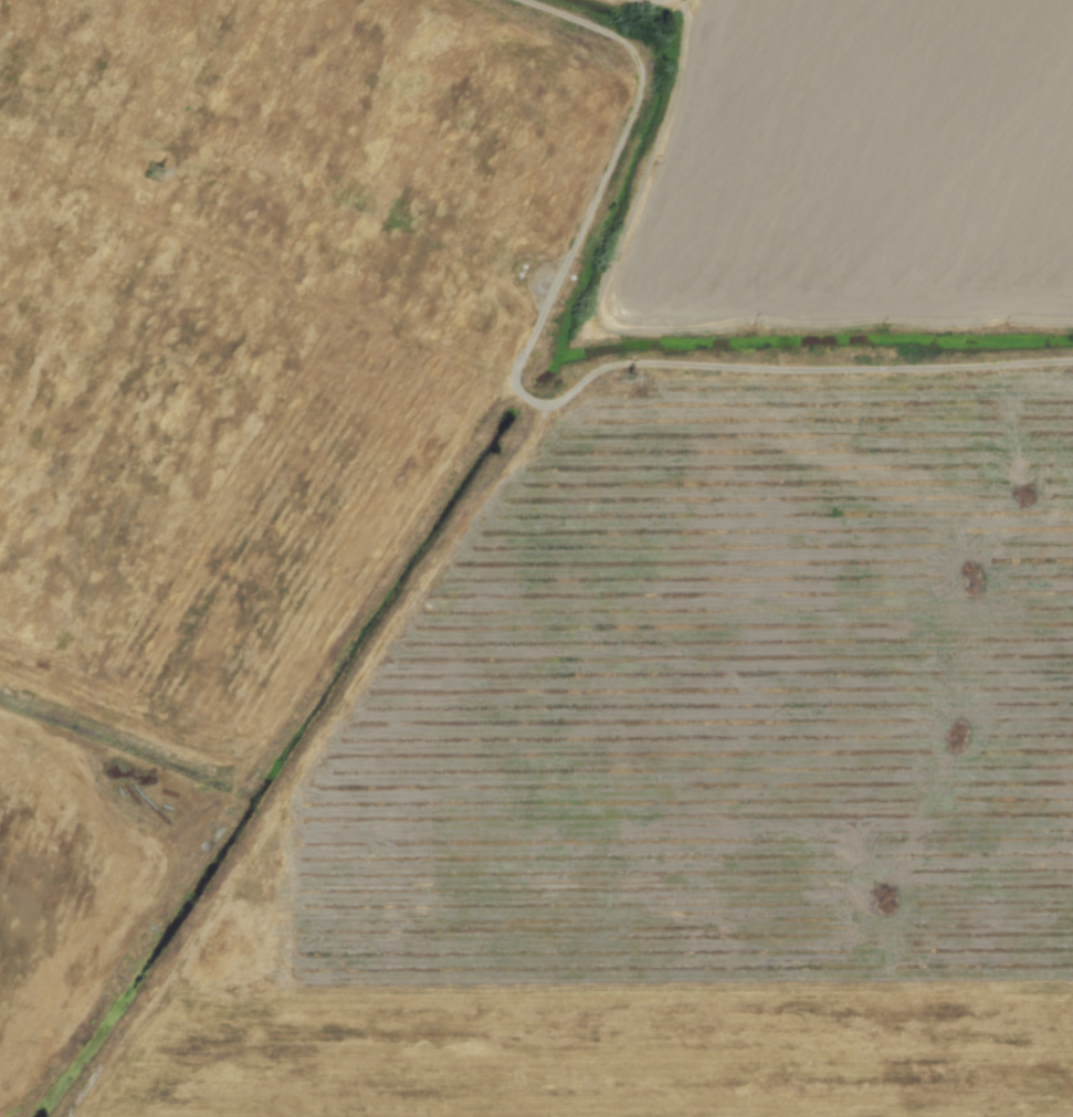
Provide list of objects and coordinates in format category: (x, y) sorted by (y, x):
crop: (858, 167)
power tower: (168, 179)
road: (608, 358)
power tower: (619, 384)

